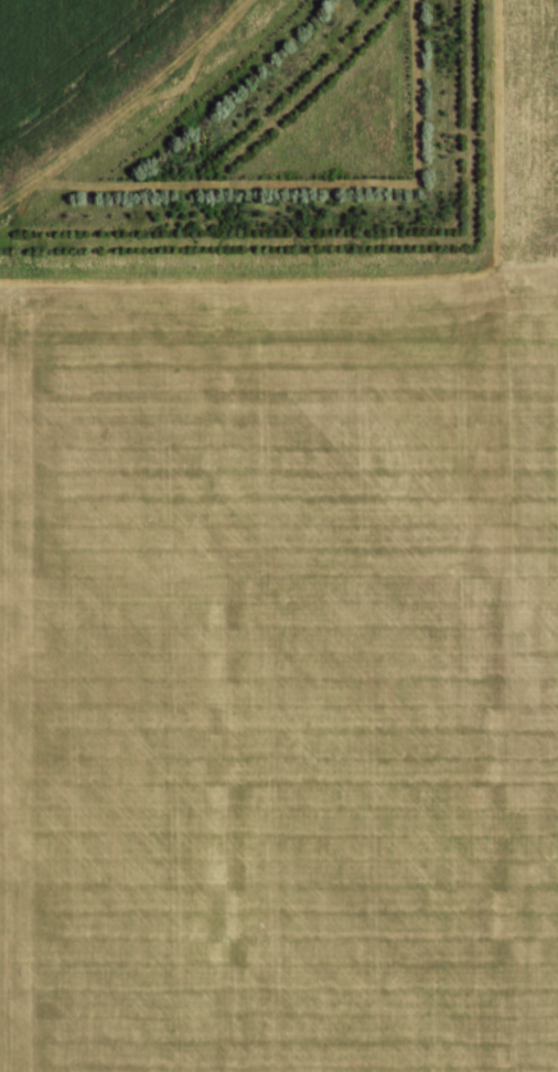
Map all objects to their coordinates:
crop: (78, 63)
crop: (288, 646)

